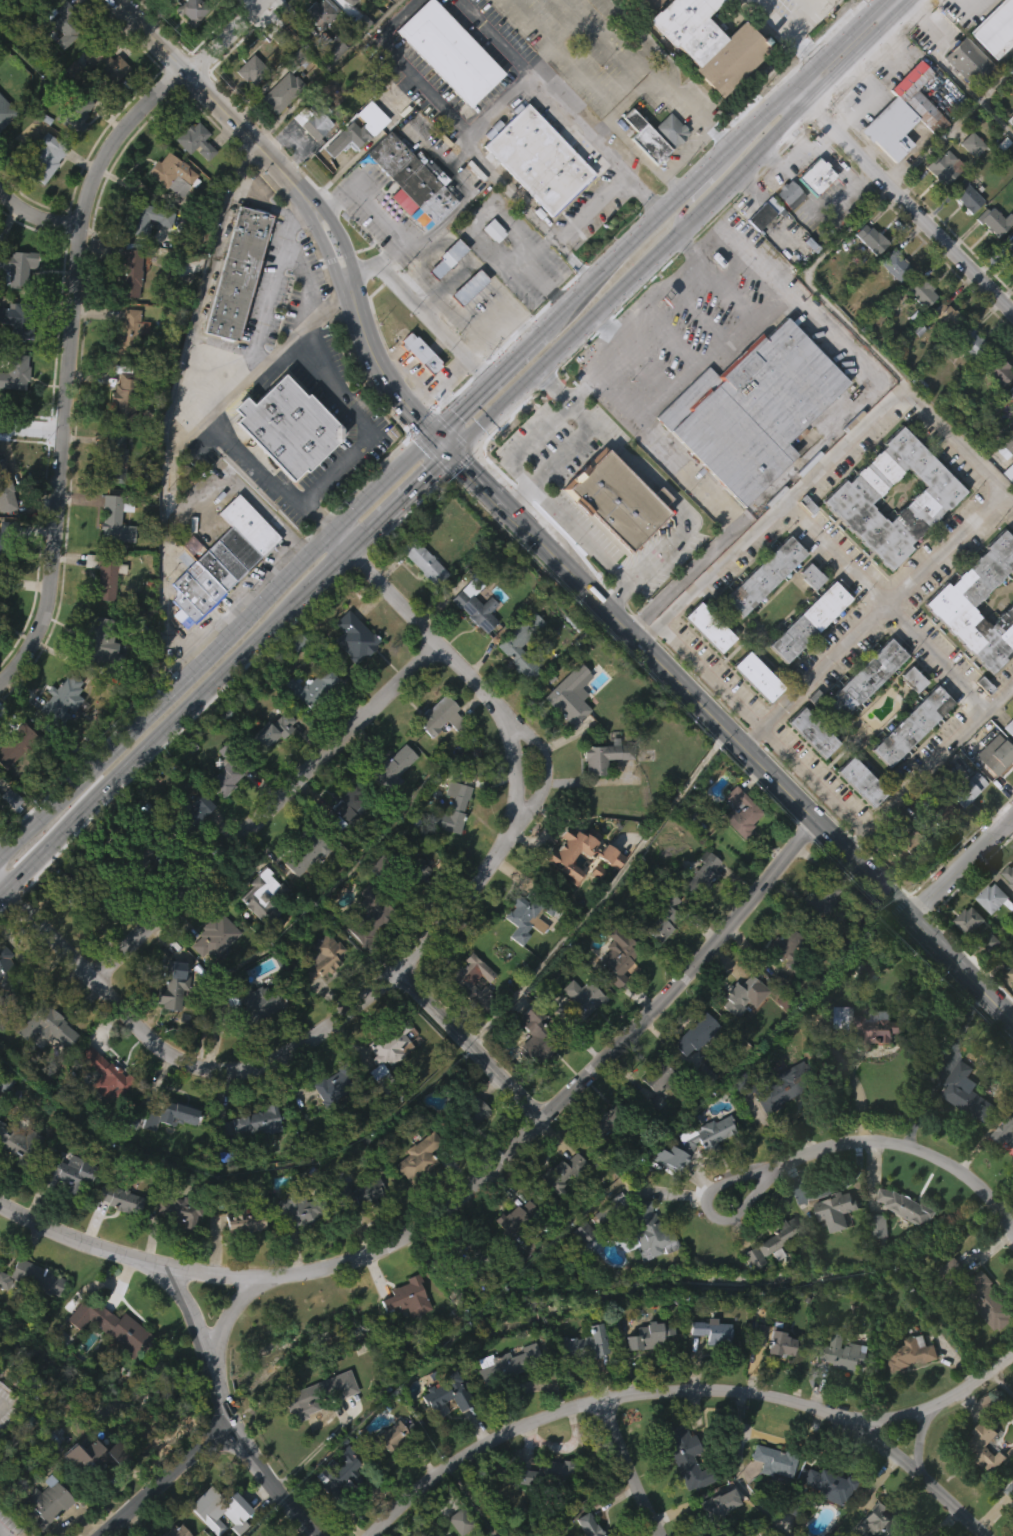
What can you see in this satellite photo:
building: (37, 0)
building: (379, 1)
building: (346, 2)
road: (900, 2)
road: (905, 2)
building: (189, 10)
building: (318, 12)
building: (167, 13)
building: (221, 17)
building: (630, 20)
building: (31, 21)
building: (62, 22)
road: (922, 22)
building: (389, 27)
building: (996, 27)
road: (794, 30)
road: (493, 37)
building: (702, 40)
road: (833, 44)
building: (188, 45)
building: (318, 47)
building: (448, 51)
road: (854, 54)
road: (893, 58)
road: (637, 59)
building: (59, 60)
building: (294, 60)
building: (965, 60)
building: (992, 60)
road: (410, 65)
building: (107, 66)
building: (249, 69)
building: (704, 69)
building: (1009, 70)
road: (997, 81)
building: (445, 87)
building: (279, 91)
road: (867, 96)
building: (963, 96)
road: (798, 97)
building: (103, 101)
road: (496, 105)
building: (248, 106)
road: (997, 112)
building: (901, 113)
building: (77, 114)
building: (3, 116)
building: (311, 120)
building: (277, 127)
building: (357, 128)
building: (652, 134)
road: (720, 135)
building: (194, 140)
building: (971, 144)
building: (4, 146)
building: (898, 149)
building: (72, 151)
building: (50, 157)
building: (307, 157)
road: (673, 158)
building: (534, 159)
building: (1011, 161)
building: (667, 165)
building: (945, 166)
road: (741, 167)
building: (172, 173)
building: (641, 173)
building: (816, 175)
building: (411, 176)
building: (332, 179)
building: (967, 179)
building: (43, 192)
road: (884, 193)
building: (534, 194)
building: (789, 194)
building: (967, 194)
road: (305, 196)
road: (691, 197)
road: (462, 200)
building: (940, 202)
road: (909, 208)
building: (169, 209)
road: (593, 210)
building: (812, 211)
road: (666, 212)
road: (376, 213)
building: (409, 214)
road: (37, 215)
building: (143, 219)
building: (993, 221)
building: (785, 229)
building: (961, 231)
building: (489, 232)
building: (871, 239)
building: (1008, 245)
road: (746, 246)
building: (760, 249)
building: (144, 254)
building: (989, 254)
road: (210, 265)
building: (489, 265)
building: (20, 266)
road: (529, 267)
building: (890, 268)
building: (237, 271)
building: (129, 272)
building: (865, 273)
road: (303, 278)
building: (1007, 279)
building: (919, 291)
building: (442, 294)
building: (893, 303)
road: (421, 309)
road: (74, 313)
building: (17, 317)
road: (629, 317)
building: (946, 317)
building: (464, 322)
building: (126, 328)
road: (299, 328)
building: (917, 328)
road: (565, 343)
building: (974, 344)
building: (941, 350)
building: (417, 354)
building: (126, 363)
building: (17, 368)
building: (999, 369)
road: (449, 372)
building: (965, 375)
road: (419, 376)
road: (484, 382)
road: (554, 386)
building: (416, 387)
road: (413, 391)
building: (1010, 391)
road: (170, 396)
building: (124, 397)
building: (994, 406)
building: (749, 410)
building: (10, 413)
building: (287, 425)
building: (1009, 425)
road: (32, 428)
building: (119, 431)
traffic signals: (431, 434)
road: (188, 436)
road: (528, 442)
road: (440, 443)
road: (613, 445)
building: (1002, 449)
traffic signals: (450, 453)
road: (562, 454)
building: (112, 459)
building: (283, 461)
road: (328, 471)
road: (477, 480)
building: (1004, 481)
road: (414, 487)
building: (5, 489)
road: (665, 493)
building: (854, 494)
road: (518, 496)
building: (618, 497)
road: (786, 497)
road: (721, 504)
building: (1006, 506)
road: (313, 521)
building: (111, 522)
road: (578, 532)
building: (611, 533)
road: (665, 541)
building: (6, 543)
road: (347, 555)
building: (110, 556)
building: (218, 559)
building: (420, 560)
road: (709, 572)
building: (760, 573)
building: (807, 574)
building: (101, 575)
road: (612, 592)
building: (218, 595)
building: (419, 596)
building: (955, 598)
building: (1012, 601)
building: (473, 602)
building: (101, 610)
building: (760, 610)
road: (875, 611)
building: (2, 612)
building: (805, 619)
building: (709, 627)
building: (354, 635)
building: (306, 640)
building: (471, 640)
building: (98, 641)
building: (519, 644)
road: (216, 645)
building: (528, 656)
building: (804, 656)
building: (704, 661)
road: (659, 665)
building: (90, 672)
building: (352, 674)
building: (758, 676)
building: (862, 680)
building: (310, 687)
building: (512, 687)
building: (570, 695)
building: (65, 699)
building: (753, 711)
building: (861, 713)
building: (437, 715)
building: (309, 722)
building: (912, 724)
building: (1009, 727)
building: (269, 730)
building: (566, 731)
building: (814, 732)
road: (511, 738)
building: (54, 742)
road: (157, 742)
building: (17, 745)
building: (435, 750)
building: (606, 754)
building: (995, 754)
building: (907, 760)
road: (927, 761)
building: (270, 765)
road: (545, 765)
building: (808, 767)
building: (387, 768)
building: (227, 769)
building: (860, 780)
road: (588, 781)
building: (991, 789)
building: (601, 790)
building: (0, 791)
building: (965, 792)
building: (391, 800)
building: (343, 808)
building: (449, 808)
road: (266, 811)
building: (738, 811)
building: (223, 812)
building: (185, 815)
building: (857, 816)
building: (934, 818)
building: (963, 824)
building: (8, 833)
building: (341, 842)
building: (447, 843)
building: (193, 845)
building: (737, 846)
building: (904, 847)
building: (302, 850)
building: (579, 855)
building: (135, 856)
road: (962, 867)
building: (701, 872)
building: (408, 875)
building: (1008, 875)
building: (556, 888)
building: (299, 890)
building: (84, 893)
road: (604, 893)
building: (260, 894)
building: (818, 895)
building: (992, 898)
building: (414, 905)
building: (699, 908)
building: (1007, 910)
building: (527, 914)
building: (664, 915)
building: (368, 920)
road: (914, 920)
building: (968, 920)
building: (988, 932)
building: (258, 934)
building: (212, 935)
building: (813, 935)
building: (785, 946)
building: (518, 954)
building: (322, 955)
building: (364, 955)
building: (965, 955)
building: (652, 961)
building: (210, 972)
building: (865, 972)
building: (1010, 973)
building: (987, 977)
building: (779, 980)
building: (7, 981)
building: (457, 982)
building: (171, 985)
building: (615, 989)
building: (318, 991)
building: (738, 995)
building: (582, 999)
building: (759, 1000)
building: (254, 1001)
building: (859, 1006)
building: (1009, 1008)
building: (468, 1015)
building: (169, 1019)
building: (1012, 1027)
building: (739, 1029)
building: (872, 1029)
building: (578, 1033)
building: (698, 1033)
building: (253, 1036)
building: (537, 1037)
road: (470, 1045)
building: (388, 1047)
road: (181, 1057)
building: (42, 1060)
building: (862, 1060)
building: (531, 1069)
building: (691, 1069)
building: (109, 1077)
building: (655, 1081)
building: (336, 1082)
building: (739, 1084)
building: (382, 1085)
building: (783, 1085)
road: (855, 1088)
building: (968, 1093)
building: (99, 1109)
building: (654, 1110)
building: (174, 1112)
building: (467, 1115)
building: (3, 1117)
building: (608, 1120)
building: (252, 1121)
building: (327, 1123)
building: (773, 1125)
building: (962, 1128)
building: (707, 1132)
building: (1004, 1134)
building: (651, 1137)
road: (523, 1138)
building: (21, 1141)
road: (900, 1142)
building: (470, 1144)
building: (222, 1147)
building: (165, 1149)
building: (671, 1155)
building: (244, 1159)
building: (1003, 1170)
building: (560, 1172)
building: (65, 1174)
building: (16, 1175)
building: (691, 1175)
road: (717, 1188)
building: (413, 1192)
building: (355, 1194)
building: (118, 1198)
building: (560, 1205)
building: (64, 1207)
building: (905, 1207)
building: (178, 1210)
building: (293, 1210)
building: (838, 1210)
building: (515, 1218)
building: (240, 1220)
building: (353, 1227)
building: (877, 1227)
building: (116, 1232)
building: (648, 1233)
building: (768, 1243)
building: (292, 1245)
building: (832, 1245)
building: (176, 1246)
building: (514, 1249)
building: (239, 1255)
building: (874, 1260)
building: (470, 1265)
building: (646, 1265)
building: (578, 1266)
building: (773, 1272)
building: (39, 1277)
building: (747, 1291)
building: (405, 1294)
building: (979, 1295)
building: (947, 1303)
road: (237, 1306)
building: (31, 1312)
building: (113, 1326)
road: (198, 1326)
building: (712, 1330)
building: (403, 1332)
building: (984, 1335)
building: (646, 1336)
building: (780, 1338)
building: (585, 1339)
building: (841, 1354)
building: (909, 1354)
building: (105, 1359)
building: (506, 1365)
building: (707, 1366)
building: (645, 1370)
building: (770, 1372)
building: (582, 1376)
building: (837, 1387)
building: (906, 1389)
road: (680, 1390)
building: (321, 1391)
building: (444, 1395)
building: (504, 1397)
building: (314, 1428)
building: (441, 1430)
building: (390, 1437)
road: (921, 1440)
building: (677, 1446)
building: (983, 1448)
building: (96, 1457)
building: (773, 1459)
road: (629, 1469)
building: (384, 1470)
road: (912, 1471)
building: (546, 1472)
building: (340, 1473)
road: (165, 1478)
building: (980, 1481)
building: (827, 1484)
building: (93, 1487)
building: (681, 1490)
building: (1010, 1491)
building: (769, 1495)
building: (792, 1501)
road: (469, 1502)
building: (46, 1504)
building: (334, 1506)
building: (542, 1507)
building: (218, 1509)
building: (711, 1516)
building: (823, 1519)
building: (876, 1520)
building: (1009, 1523)
building: (586, 1525)
building: (44, 1527)
building: (762, 1528)
building: (203, 1530)
building: (172, 1531)
building: (229, 1532)

